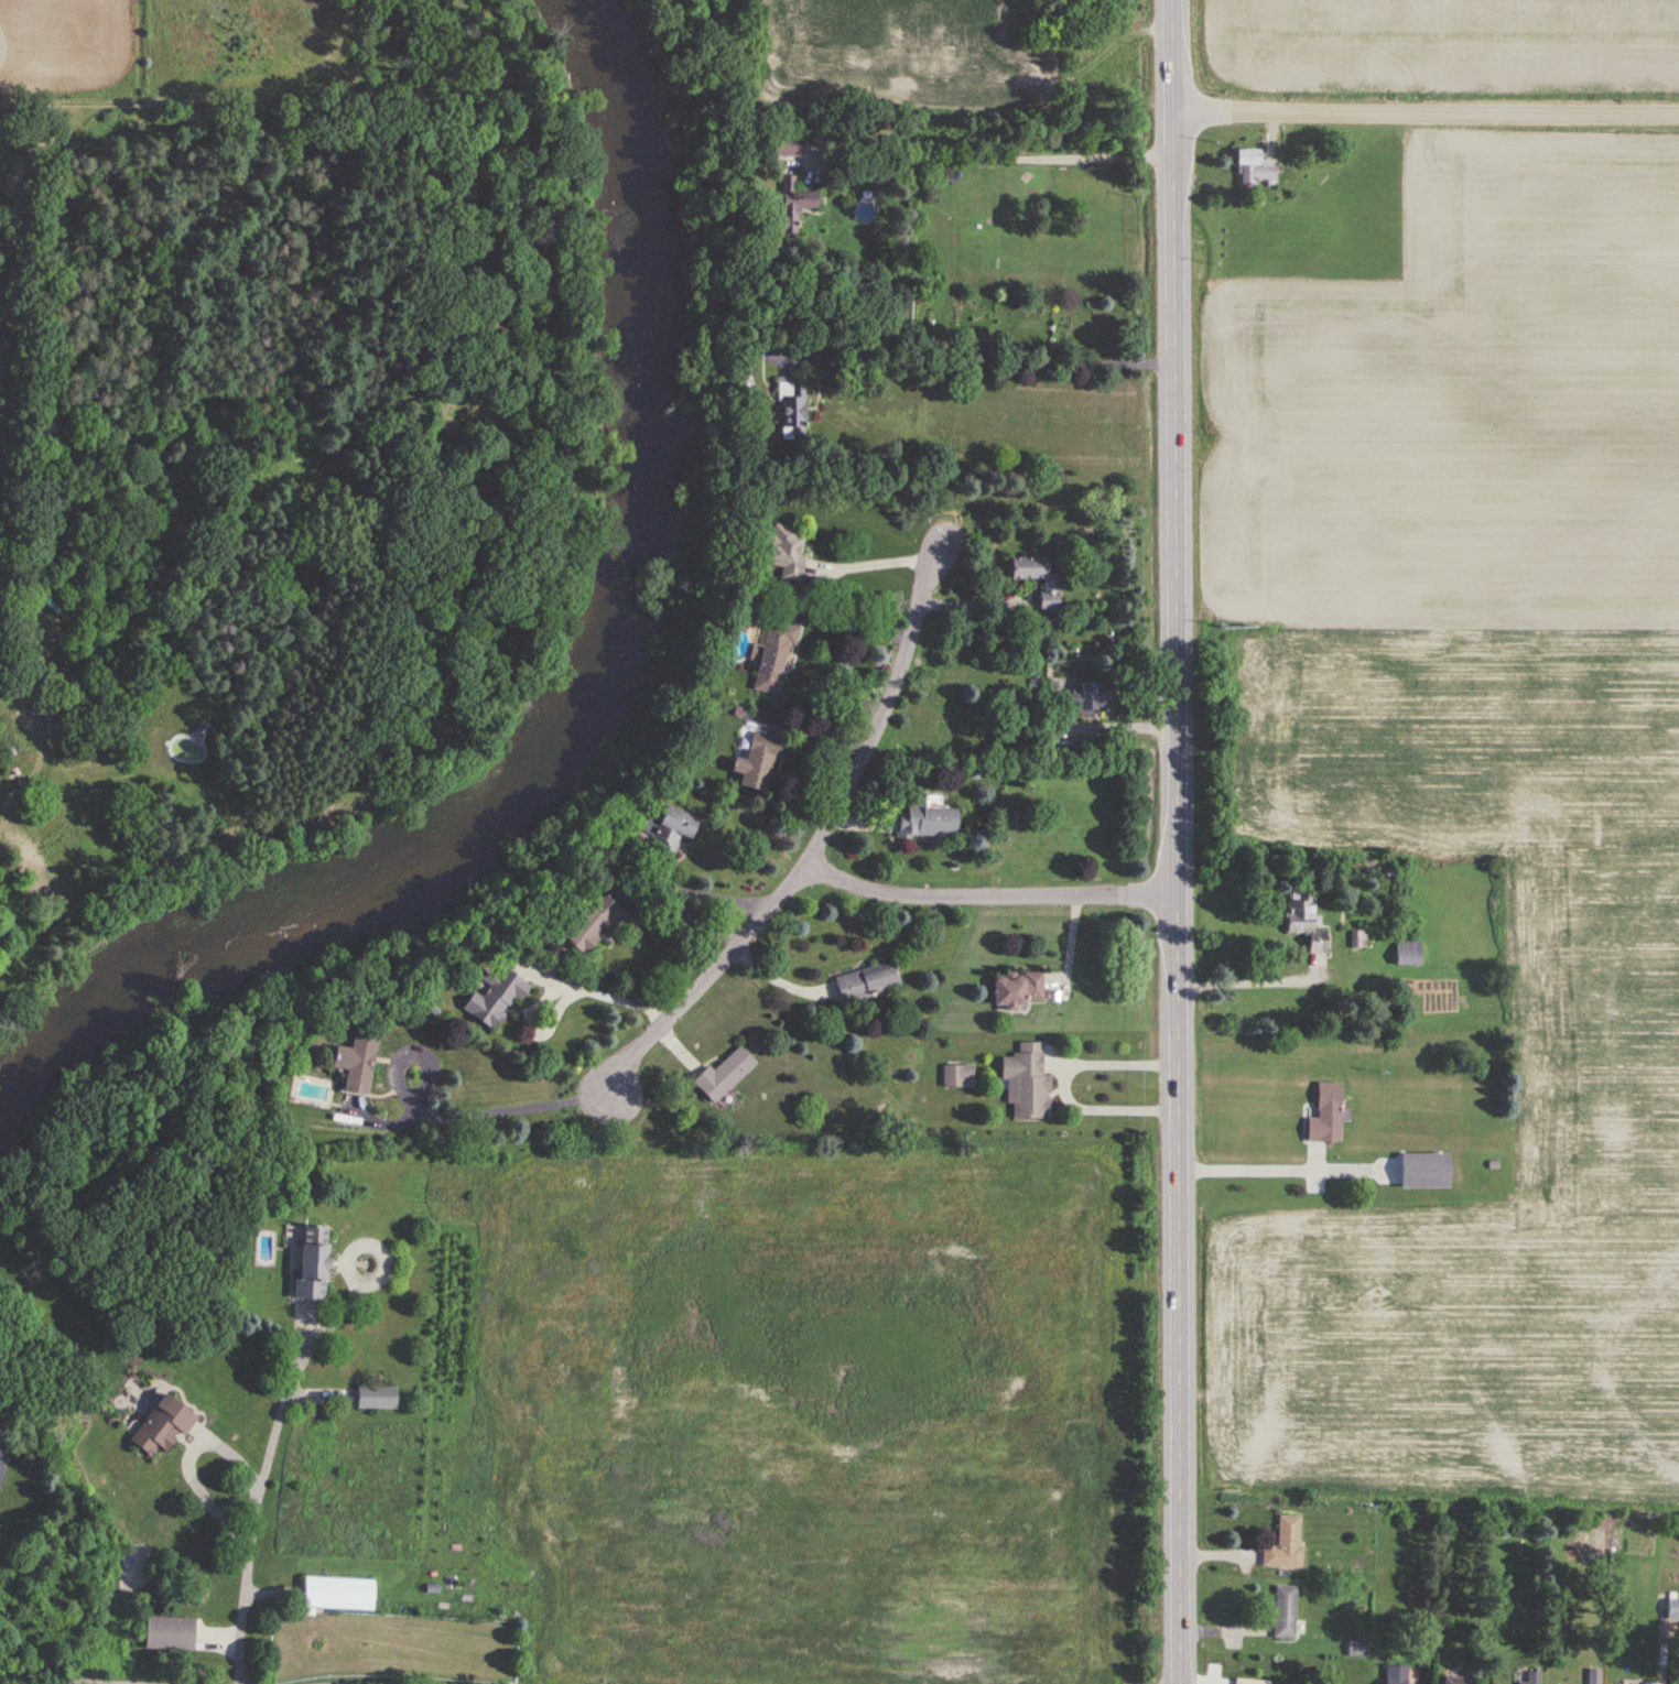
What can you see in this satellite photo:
building: (931, 52)
road: (1428, 110)
building: (787, 145)
road: (983, 160)
building: (1254, 166)
building: (792, 203)
road: (975, 360)
building: (791, 406)
building: (783, 550)
road: (874, 563)
building: (1049, 595)
road: (974, 604)
road: (848, 616)
building: (771, 658)
building: (1084, 698)
river: (579, 707)
building: (754, 762)
building: (928, 822)
building: (665, 832)
road: (1181, 841)
road: (819, 843)
road: (719, 894)
road: (992, 897)
building: (1299, 914)
building: (589, 923)
building: (1408, 954)
road: (1254, 979)
road: (595, 981)
building: (865, 982)
building: (1017, 989)
building: (491, 997)
road: (416, 1054)
road: (1044, 1060)
building: (355, 1061)
building: (722, 1075)
building: (957, 1076)
building: (1026, 1083)
road: (480, 1110)
building: (1325, 1116)
road: (1272, 1149)
building: (1423, 1172)
building: (310, 1263)
building: (375, 1399)
building: (161, 1427)
road: (249, 1495)
building: (1285, 1545)
building: (337, 1594)
building: (1285, 1612)
building: (1672, 1612)
building: (167, 1634)
building: (1357, 1650)
building: (1396, 1675)
road: (379, 1677)
building: (1532, 1678)
road: (56, 1681)
building: (1459, 1681)
building: (1248, 1682)
building: (1518, 1683)

